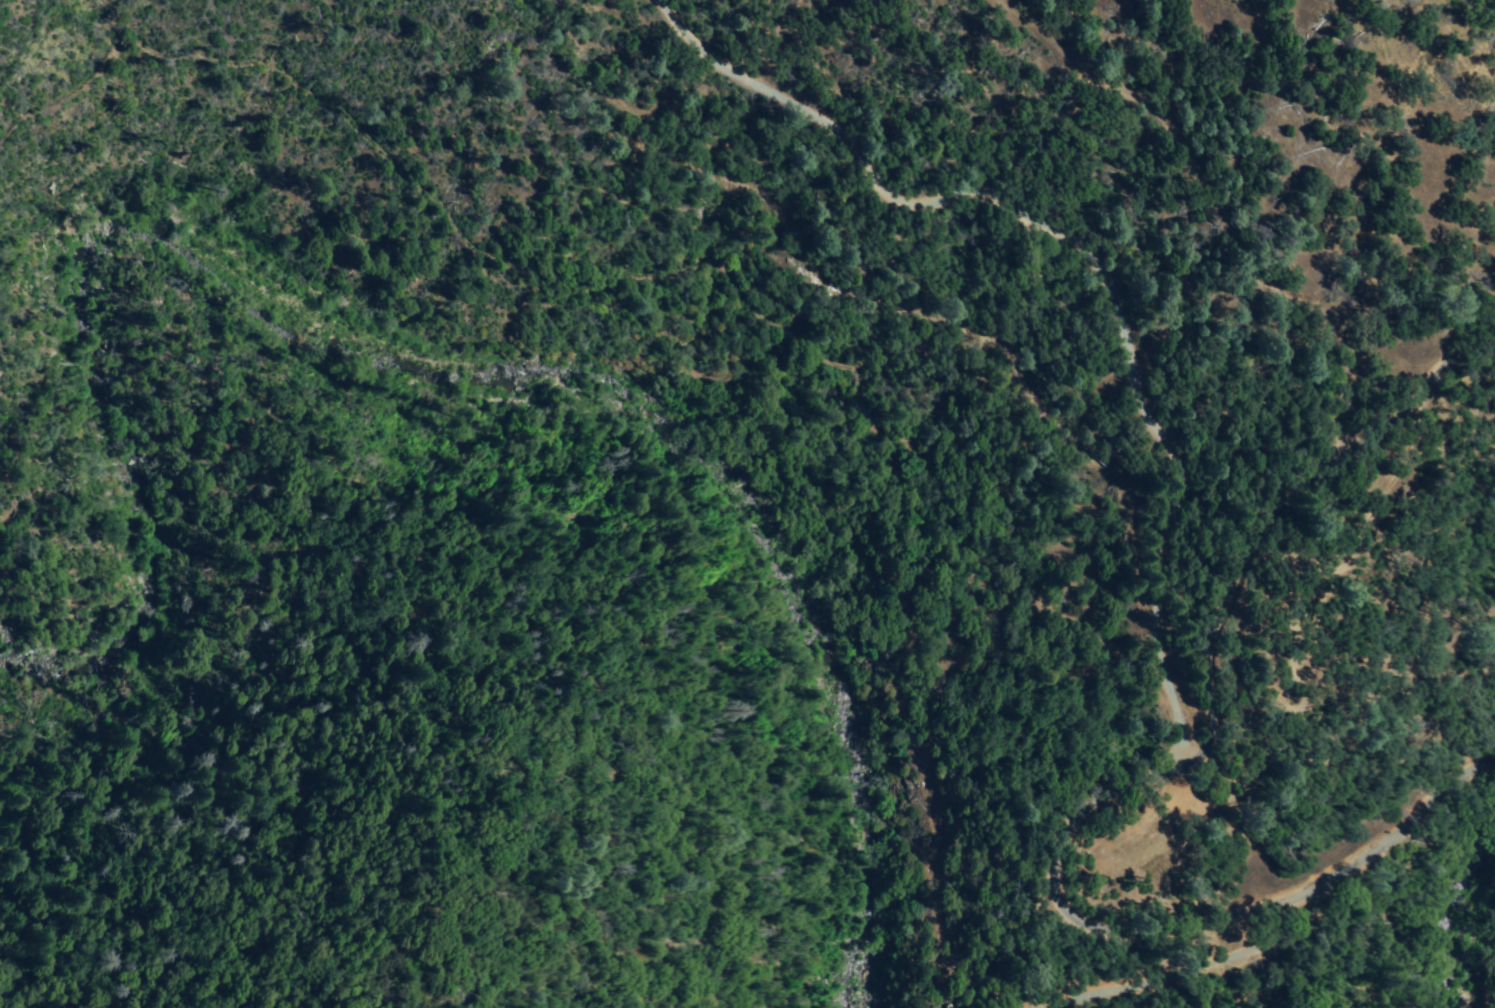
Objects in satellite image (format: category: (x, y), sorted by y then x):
road: (1094, 258)
river: (415, 377)
road: (1296, 517)
road: (1188, 926)
river: (1466, 938)
road: (1192, 969)

